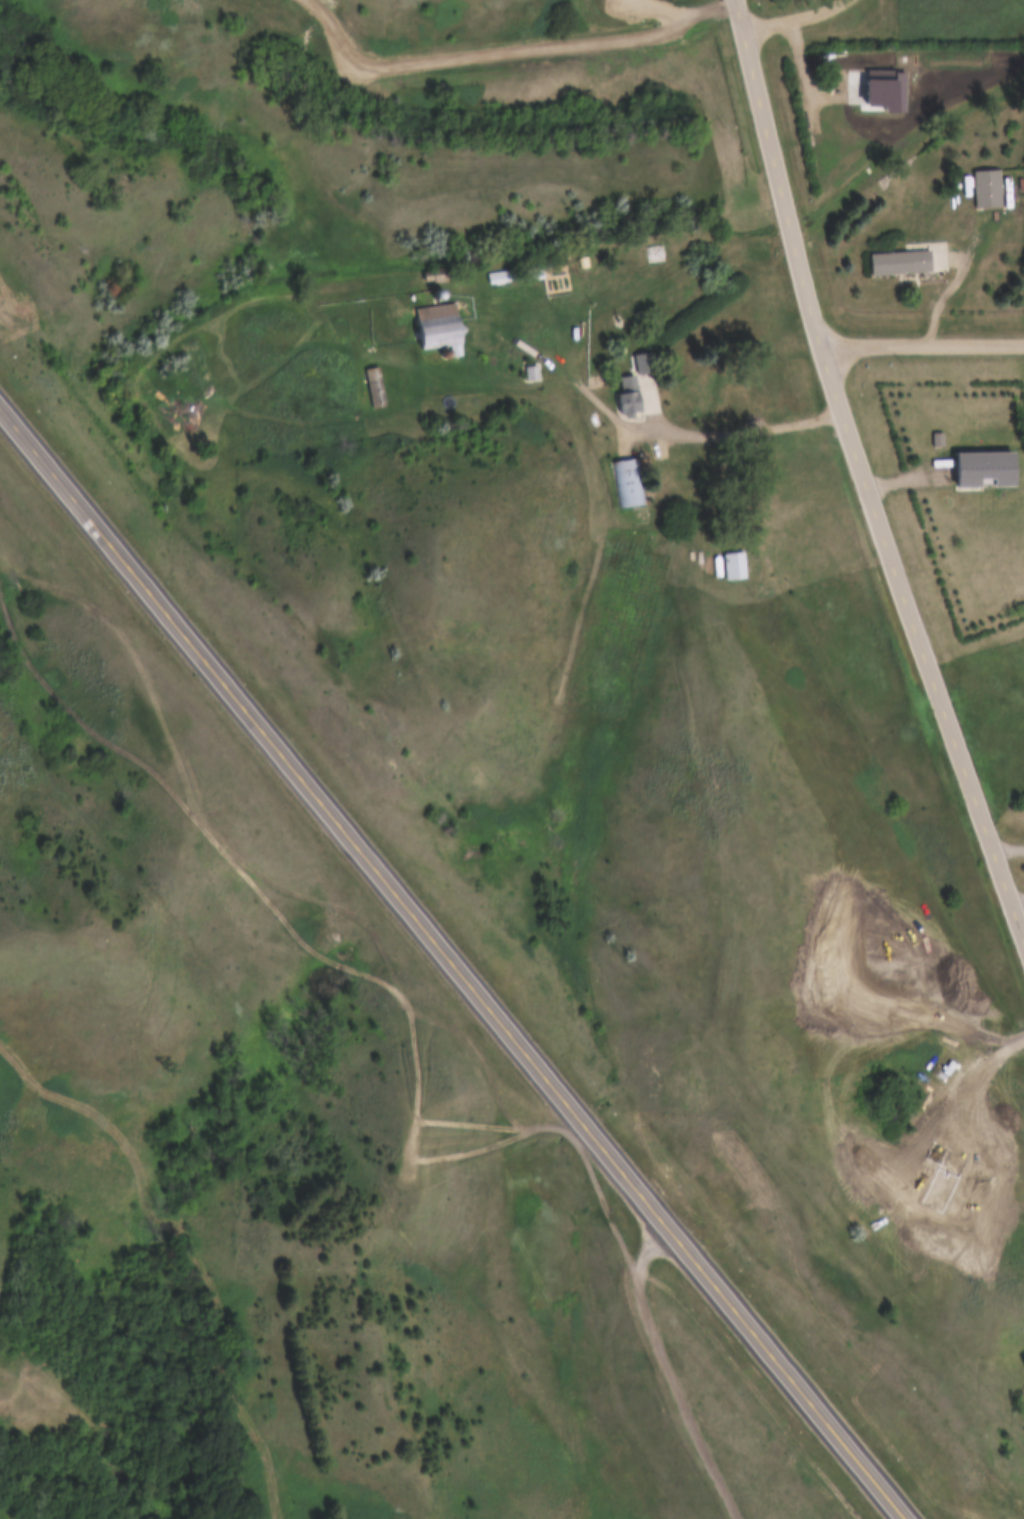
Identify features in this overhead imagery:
road: (795, 16)
building: (987, 189)
building: (899, 262)
building: (430, 275)
road: (957, 276)
building: (494, 278)
building: (430, 326)
road: (922, 341)
building: (641, 363)
building: (523, 374)
building: (366, 388)
building: (628, 395)
road: (707, 427)
building: (988, 469)
road: (862, 471)
building: (625, 483)
building: (728, 566)
road: (1008, 843)
road: (1019, 904)
road: (453, 961)
road: (669, 1369)

